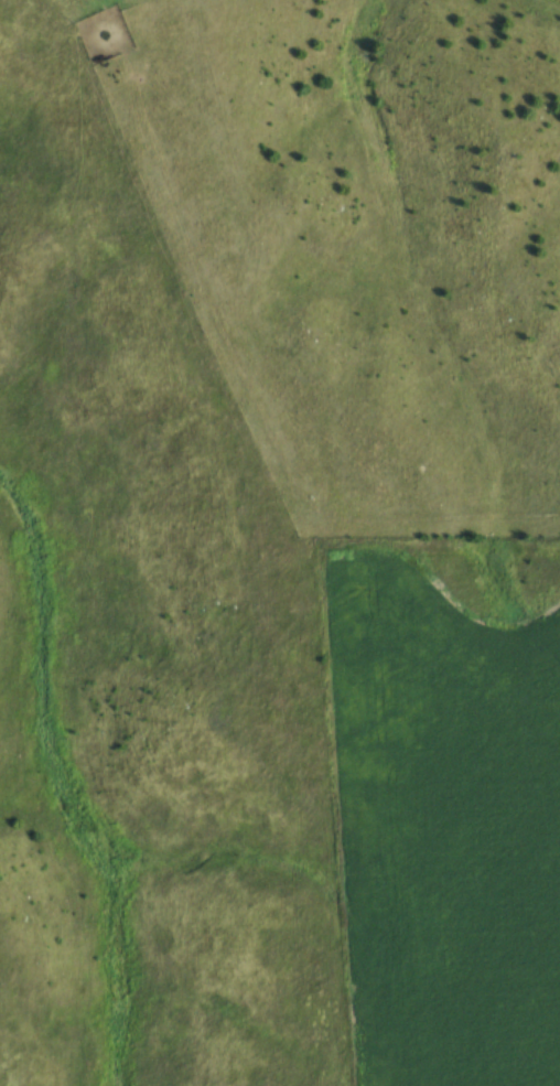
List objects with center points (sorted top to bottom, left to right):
crop: (444, 830)

